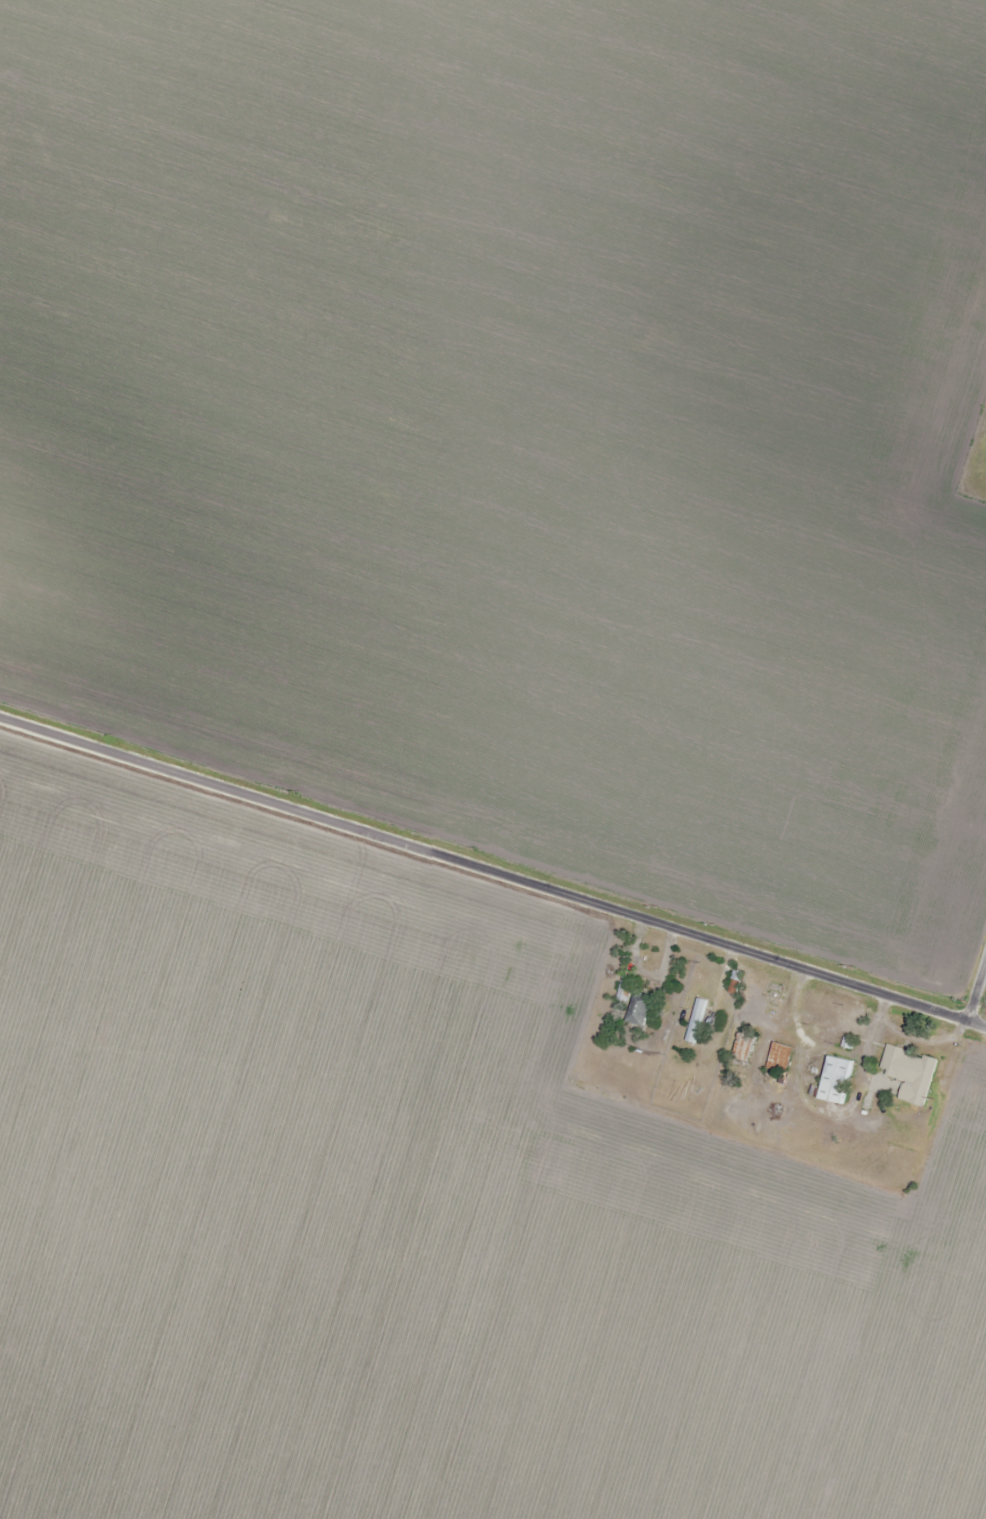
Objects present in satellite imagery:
road: (493, 858)
road: (597, 1000)

